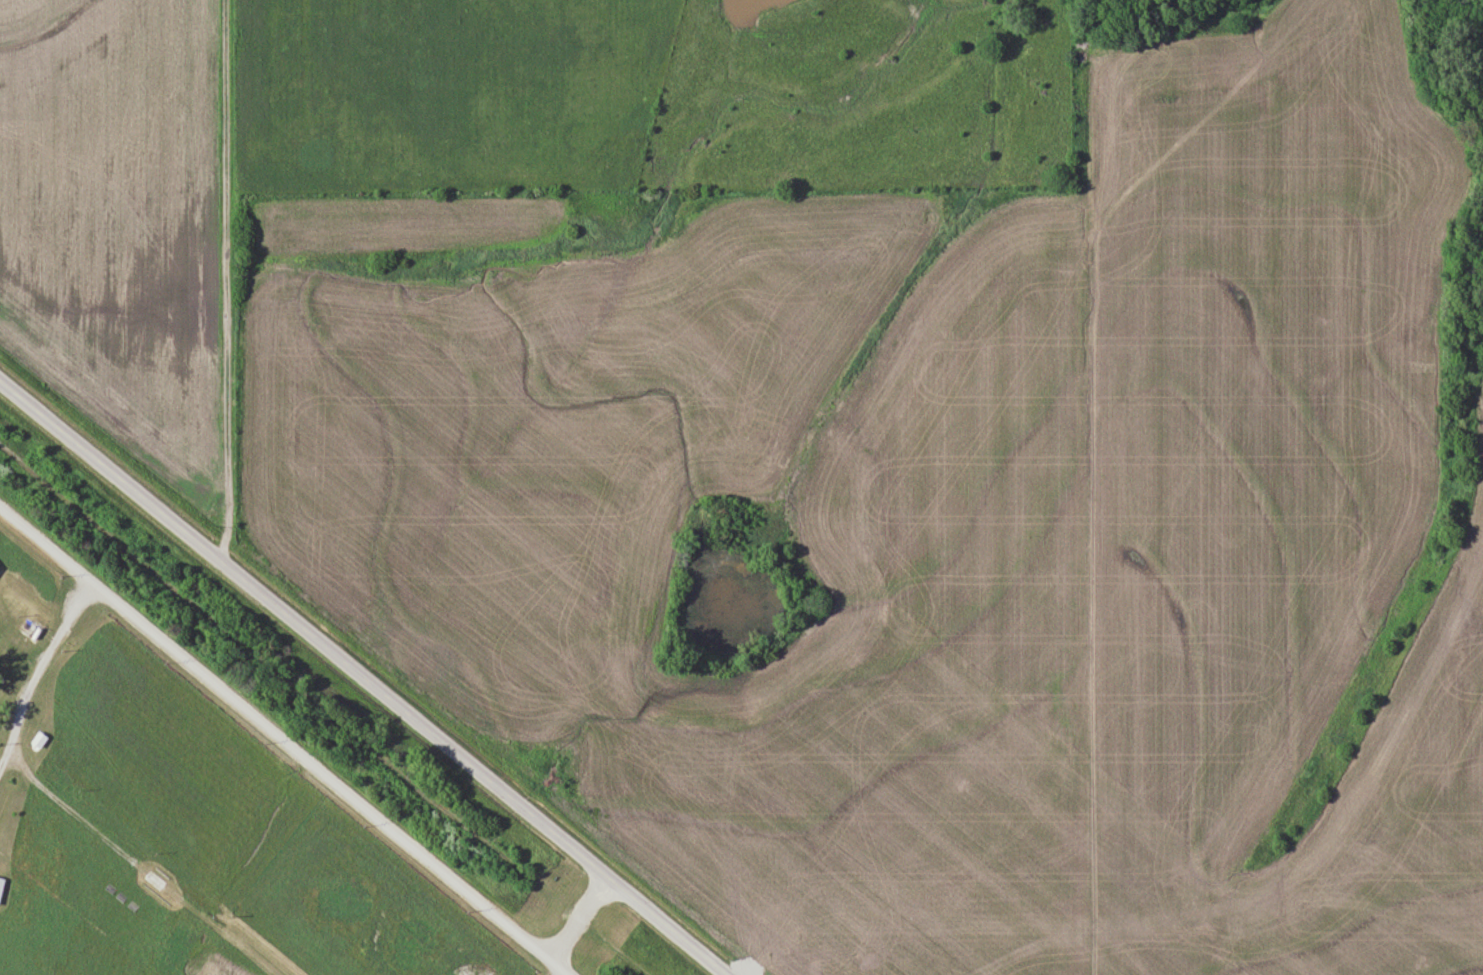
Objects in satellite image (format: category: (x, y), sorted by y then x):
road: (221, 278)
road: (49, 654)
road: (364, 677)
road: (285, 741)

